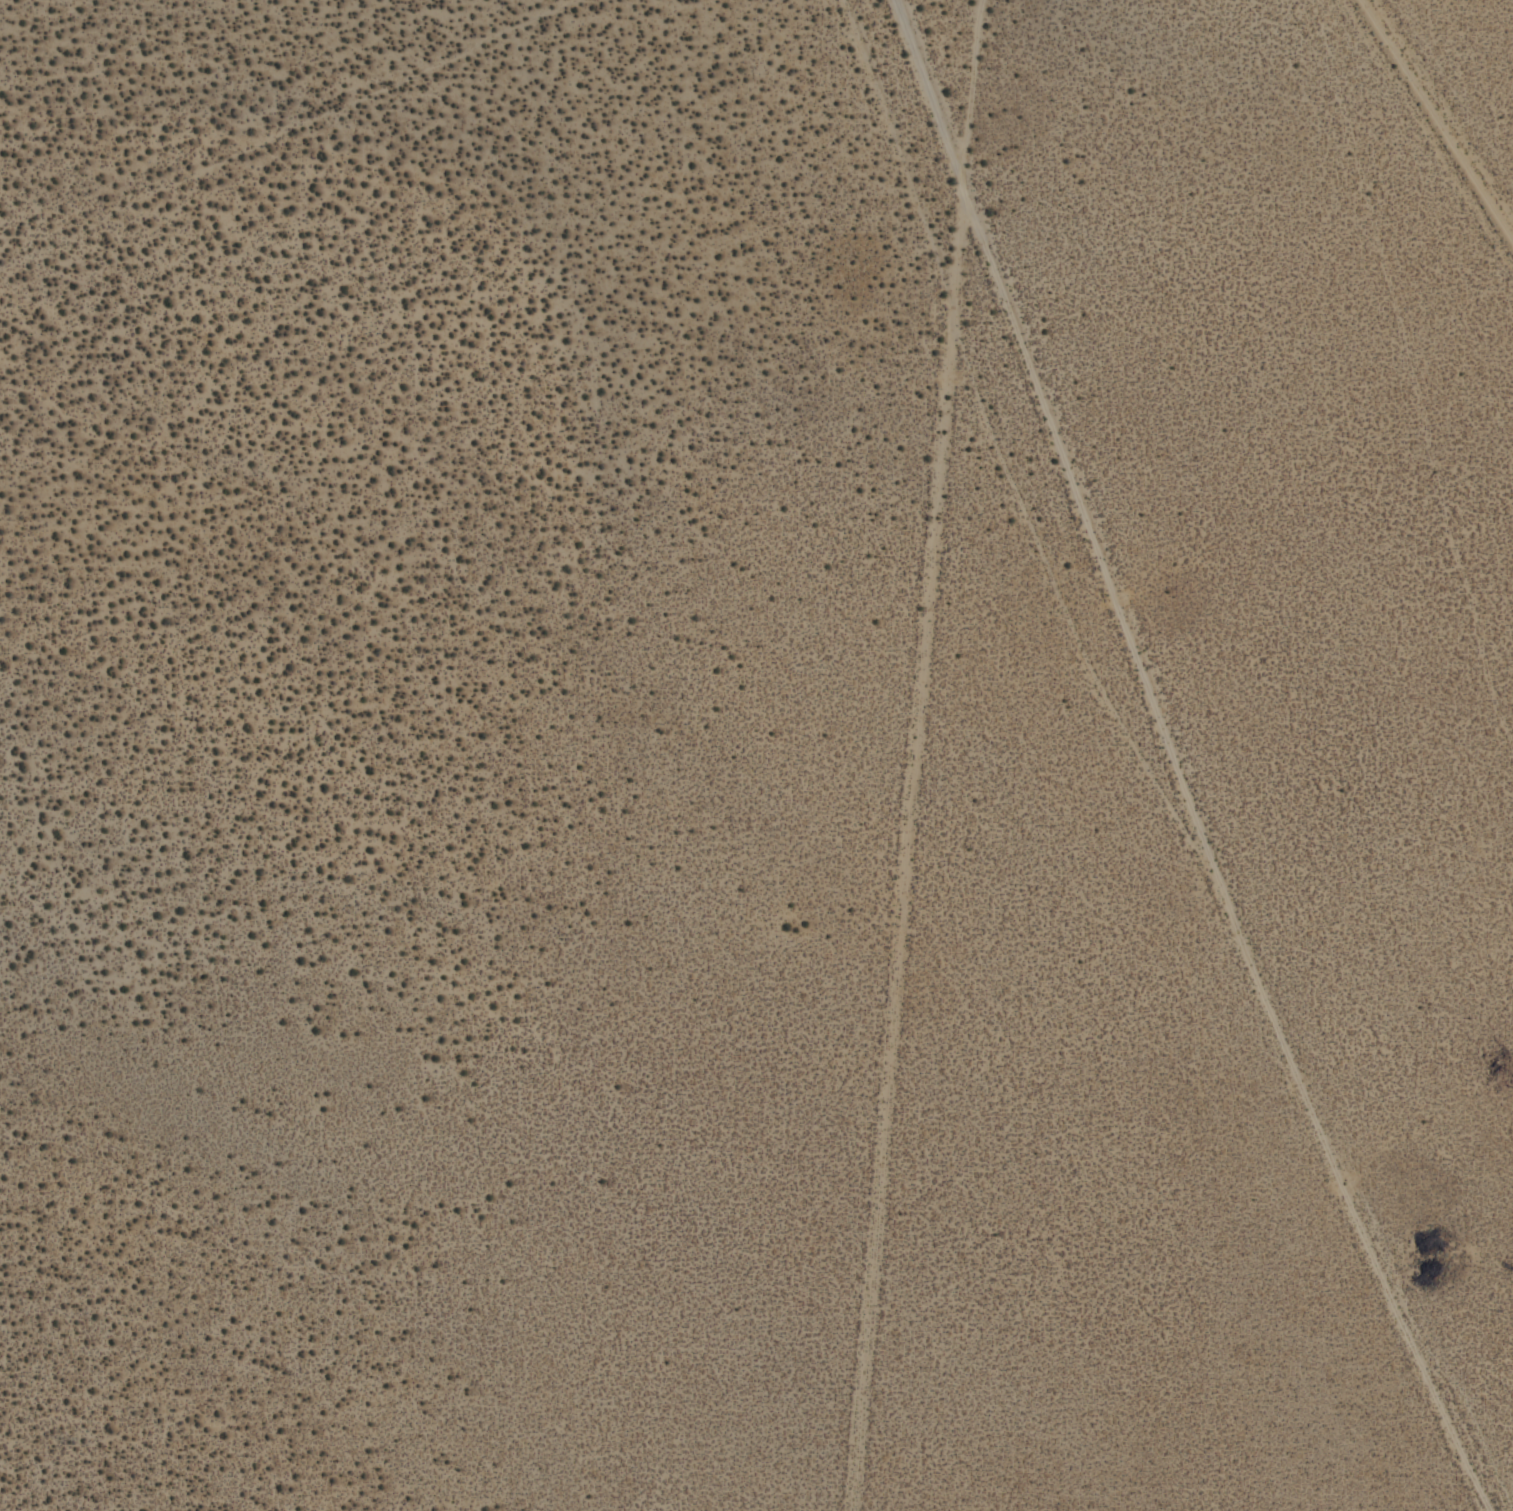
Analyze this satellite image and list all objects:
road: (966, 168)
road: (917, 840)
road: (1224, 867)

